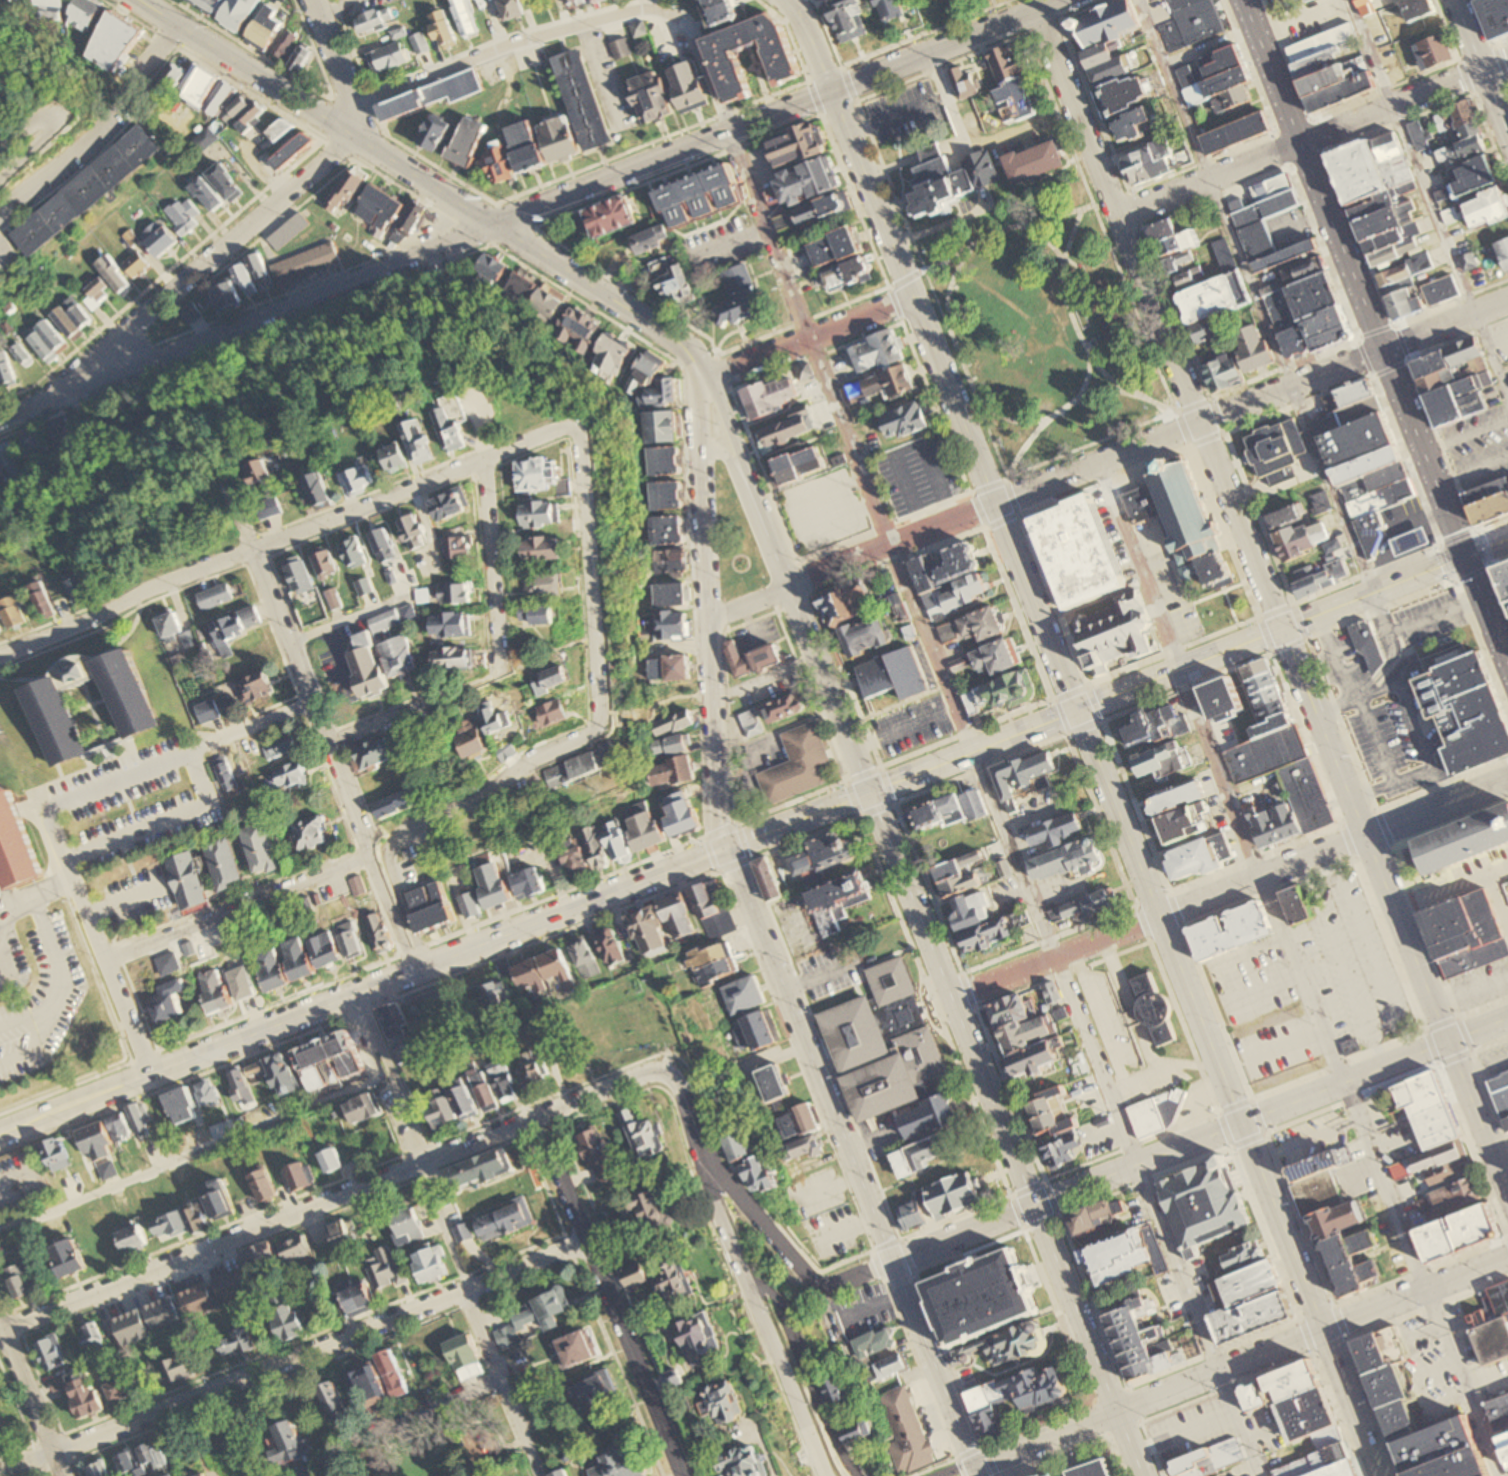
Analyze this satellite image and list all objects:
road: (333, 8)
road: (574, 27)
road: (809, 43)
road: (951, 46)
road: (337, 66)
road: (1481, 70)
road: (945, 102)
road: (1403, 104)
road: (314, 112)
road: (1056, 112)
road: (895, 114)
road: (96, 124)
road: (53, 126)
road: (1018, 134)
road: (663, 157)
road: (887, 178)
road: (1208, 181)
road: (1429, 197)
road: (1102, 202)
road: (570, 213)
road: (1118, 218)
road: (1021, 224)
road: (727, 242)
road: (0, 267)
road: (199, 270)
road: (916, 275)
road: (952, 282)
road: (563, 292)
road: (603, 294)
road: (1254, 294)
road: (890, 295)
road: (913, 297)
building: (1408, 309)
road: (247, 323)
road: (1442, 326)
building: (1328, 329)
park: (1045, 330)
road: (808, 332)
road: (1144, 333)
road: (1371, 339)
road: (1499, 345)
road: (961, 360)
road: (1093, 363)
road: (728, 382)
road: (1289, 387)
building: (1459, 400)
road: (1185, 409)
road: (1427, 411)
road: (1180, 421)
road: (1224, 432)
road: (1462, 437)
road: (1091, 445)
road: (719, 449)
road: (907, 449)
building: (1275, 452)
road: (570, 454)
road: (1097, 463)
road: (1469, 474)
road: (997, 482)
road: (1010, 487)
road: (372, 491)
building: (1487, 492)
road: (968, 493)
building: (1141, 504)
building: (1490, 509)
road: (796, 519)
building: (1189, 525)
road: (1241, 525)
road: (985, 528)
road: (983, 529)
road: (291, 537)
building: (1367, 537)
park: (735, 543)
road: (1439, 544)
building: (1078, 553)
traffic signals: (1457, 555)
road: (760, 558)
road: (851, 560)
road: (748, 563)
road: (1489, 567)
road: (720, 571)
road: (482, 576)
road: (590, 578)
building: (1504, 579)
road: (1495, 580)
road: (783, 583)
road: (1202, 599)
road: (1229, 604)
road: (708, 611)
road: (1256, 616)
road: (1431, 617)
road: (344, 620)
building: (1116, 630)
road: (785, 634)
road: (1306, 637)
building: (1365, 640)
road: (1384, 641)
road: (1312, 652)
road: (1273, 654)
road: (496, 660)
road: (1189, 664)
road: (1341, 675)
road: (302, 676)
road: (763, 676)
building: (894, 676)
road: (317, 691)
building: (1264, 692)
building: (1221, 701)
building: (130, 709)
building: (1465, 709)
road: (600, 714)
road: (305, 720)
road: (1102, 721)
building: (1154, 725)
building: (1270, 726)
road: (903, 728)
building: (1263, 754)
road: (176, 756)
building: (1162, 760)
building: (797, 764)
road: (1429, 768)
road: (523, 777)
road: (352, 780)
road: (1439, 785)
road: (1370, 791)
traffic signals: (870, 792)
building: (1305, 795)
building: (1175, 798)
road: (893, 802)
road: (992, 804)
road: (441, 815)
road: (798, 820)
road: (158, 822)
building: (1184, 825)
building: (1273, 826)
road: (1384, 829)
road: (1348, 842)
building: (1466, 843)
building: (14, 849)
road: (1323, 850)
building: (822, 856)
building: (1199, 857)
road: (749, 859)
road: (723, 883)
parking lot: (1446, 884)
road: (1495, 889)
road: (1442, 894)
parking lot: (138, 898)
road: (1412, 899)
road: (30, 901)
road: (125, 901)
road: (516, 901)
road: (378, 903)
building: (836, 903)
road: (1135, 906)
building: (1296, 906)
road: (237, 907)
road: (1175, 909)
road: (1394, 909)
road: (393, 915)
road: (1507, 918)
road: (489, 921)
road: (1142, 923)
road: (1182, 926)
building: (1230, 931)
building: (1467, 933)
road: (98, 943)
road: (1370, 951)
road: (1251, 952)
road: (1055, 957)
road: (53, 958)
road: (1340, 963)
road: (1300, 969)
road: (1, 971)
road: (817, 977)
parking lot: (1313, 986)
road: (1470, 986)
road: (436, 988)
road: (1187, 989)
road: (1266, 989)
road: (363, 990)
road: (970, 991)
road: (962, 993)
park: (435, 1006)
building: (1153, 1009)
road: (1101, 1015)
road: (24, 1016)
building: (884, 1044)
road: (1289, 1047)
road: (35, 1050)
road: (1470, 1050)
building: (327, 1062)
road: (1159, 1068)
road: (1485, 1071)
road: (1482, 1078)
road: (179, 1081)
building: (1501, 1091)
building: (1420, 1092)
road: (627, 1097)
road: (994, 1101)
building: (1156, 1111)
road: (1217, 1113)
building: (927, 1115)
building: (1507, 1121)
road: (477, 1126)
building: (1436, 1126)
road: (1265, 1133)
road: (1199, 1137)
road: (1308, 1138)
road: (192, 1152)
building: (917, 1156)
road: (851, 1158)
building: (1441, 1161)
building: (1318, 1163)
road: (1145, 1181)
road: (824, 1186)
building: (1322, 1191)
road: (1010, 1193)
building: (1456, 1195)
road: (331, 1196)
building: (941, 1199)
traffic signals: (1034, 1204)
building: (1206, 1205)
road: (1059, 1215)
building: (1097, 1216)
building: (1340, 1218)
building: (1473, 1225)
road: (844, 1228)
road: (448, 1234)
road: (276, 1236)
road: (1506, 1237)
building: (1437, 1239)
road: (1507, 1239)
road: (889, 1242)
building: (1349, 1247)
road: (789, 1253)
building: (1243, 1255)
building: (1121, 1256)
road: (745, 1273)
building: (1354, 1275)
building: (1250, 1284)
building: (980, 1295)
road: (609, 1297)
road: (594, 1306)
road: (872, 1309)
building: (1252, 1315)
road: (1340, 1323)
building: (1491, 1324)
road: (1311, 1332)
road: (1359, 1334)
road: (1427, 1334)
road: (1309, 1336)
building: (1133, 1341)
building: (1006, 1343)
road: (282, 1345)
building: (872, 1345)
road: (1213, 1353)
building: (1371, 1354)
road: (293, 1358)
road: (1437, 1366)
building: (883, 1368)
road: (806, 1373)
road: (1263, 1373)
building: (1283, 1386)
building: (1387, 1387)
road: (1490, 1387)
road: (253, 1389)
building: (834, 1389)
road: (927, 1389)
building: (1015, 1396)
road: (31, 1398)
road: (1092, 1402)
road: (1448, 1403)
road: (51, 1406)
road: (428, 1407)
building: (1311, 1412)
building: (1499, 1412)
building: (1397, 1421)
road: (1141, 1422)
road: (484, 1423)
building: (856, 1430)
building: (903, 1432)
road: (837, 1433)
road: (1185, 1433)
road: (759, 1439)
road: (1046, 1440)
building: (1505, 1441)
road: (1128, 1443)
road: (1079, 1446)
park: (460, 1447)
road: (427, 1449)
road: (975, 1449)
building: (1442, 1451)
road: (780, 1458)
building: (1217, 1460)
building: (738, 1461)
building: (1320, 1463)
building: (1090, 1469)
road: (964, 1471)
road: (977, 1472)
building: (1056, 1475)

